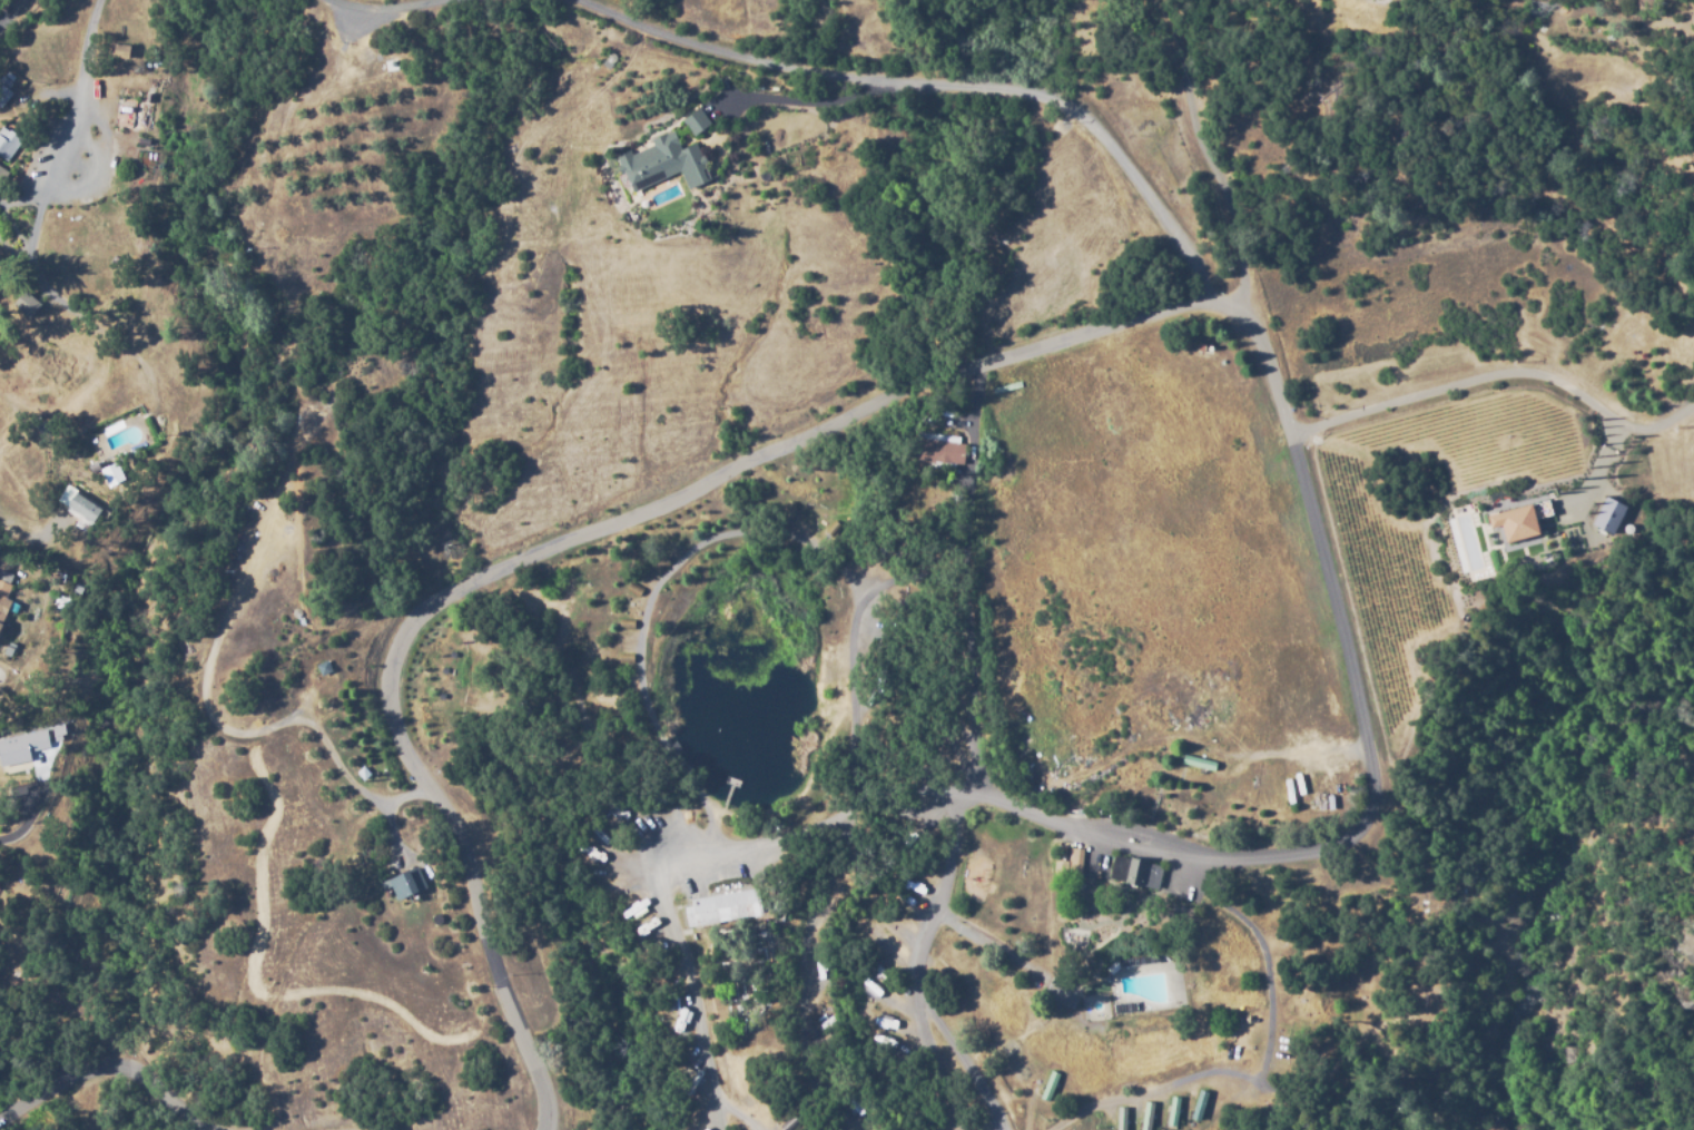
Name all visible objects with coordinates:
road: (385, 1)
road: (9, 10)
road: (88, 28)
building: (119, 47)
building: (610, 55)
road: (935, 77)
building: (136, 112)
building: (693, 125)
building: (8, 144)
road: (1213, 154)
building: (663, 164)
building: (3, 175)
building: (28, 304)
building: (1005, 390)
road: (1410, 394)
building: (938, 451)
building: (114, 474)
building: (86, 508)
building: (790, 508)
building: (1519, 514)
building: (1611, 514)
building: (1629, 525)
building: (833, 528)
road: (28, 539)
road: (546, 546)
building: (633, 587)
building: (8, 601)
building: (627, 623)
building: (452, 650)
building: (626, 657)
building: (324, 668)
building: (439, 675)
building: (429, 698)
building: (20, 747)
building: (1198, 765)
building: (363, 774)
building: (1199, 810)
road: (1360, 827)
building: (1076, 861)
building: (808, 866)
building: (1135, 872)
building: (406, 883)
building: (732, 906)
road: (816, 911)
building: (1139, 960)
road: (923, 970)
building: (1124, 1006)
road: (1261, 1063)
road: (110, 1072)
building: (1048, 1088)
building: (1199, 1107)
building: (1172, 1112)
building: (1146, 1117)
building: (1120, 1119)
building: (790, 1123)

